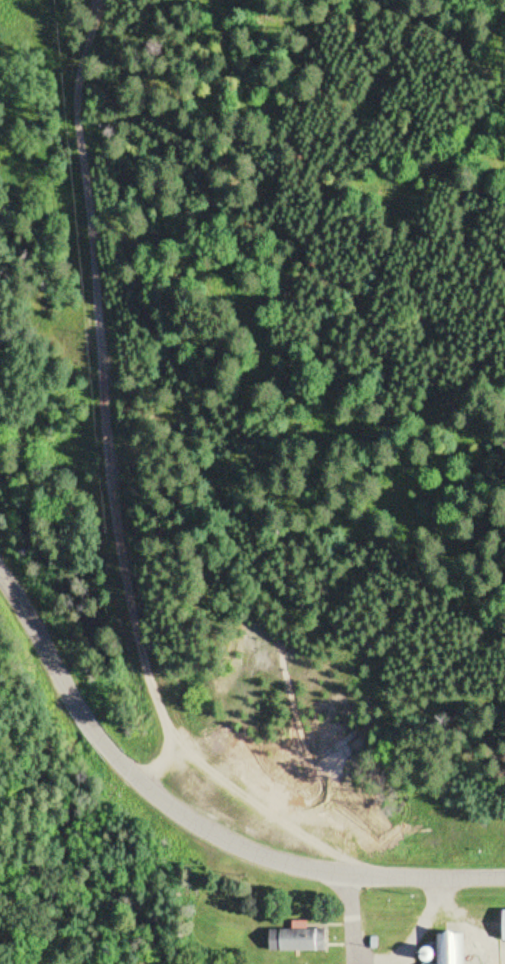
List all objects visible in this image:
road: (196, 826)
building: (504, 927)
building: (298, 941)
building: (448, 950)

